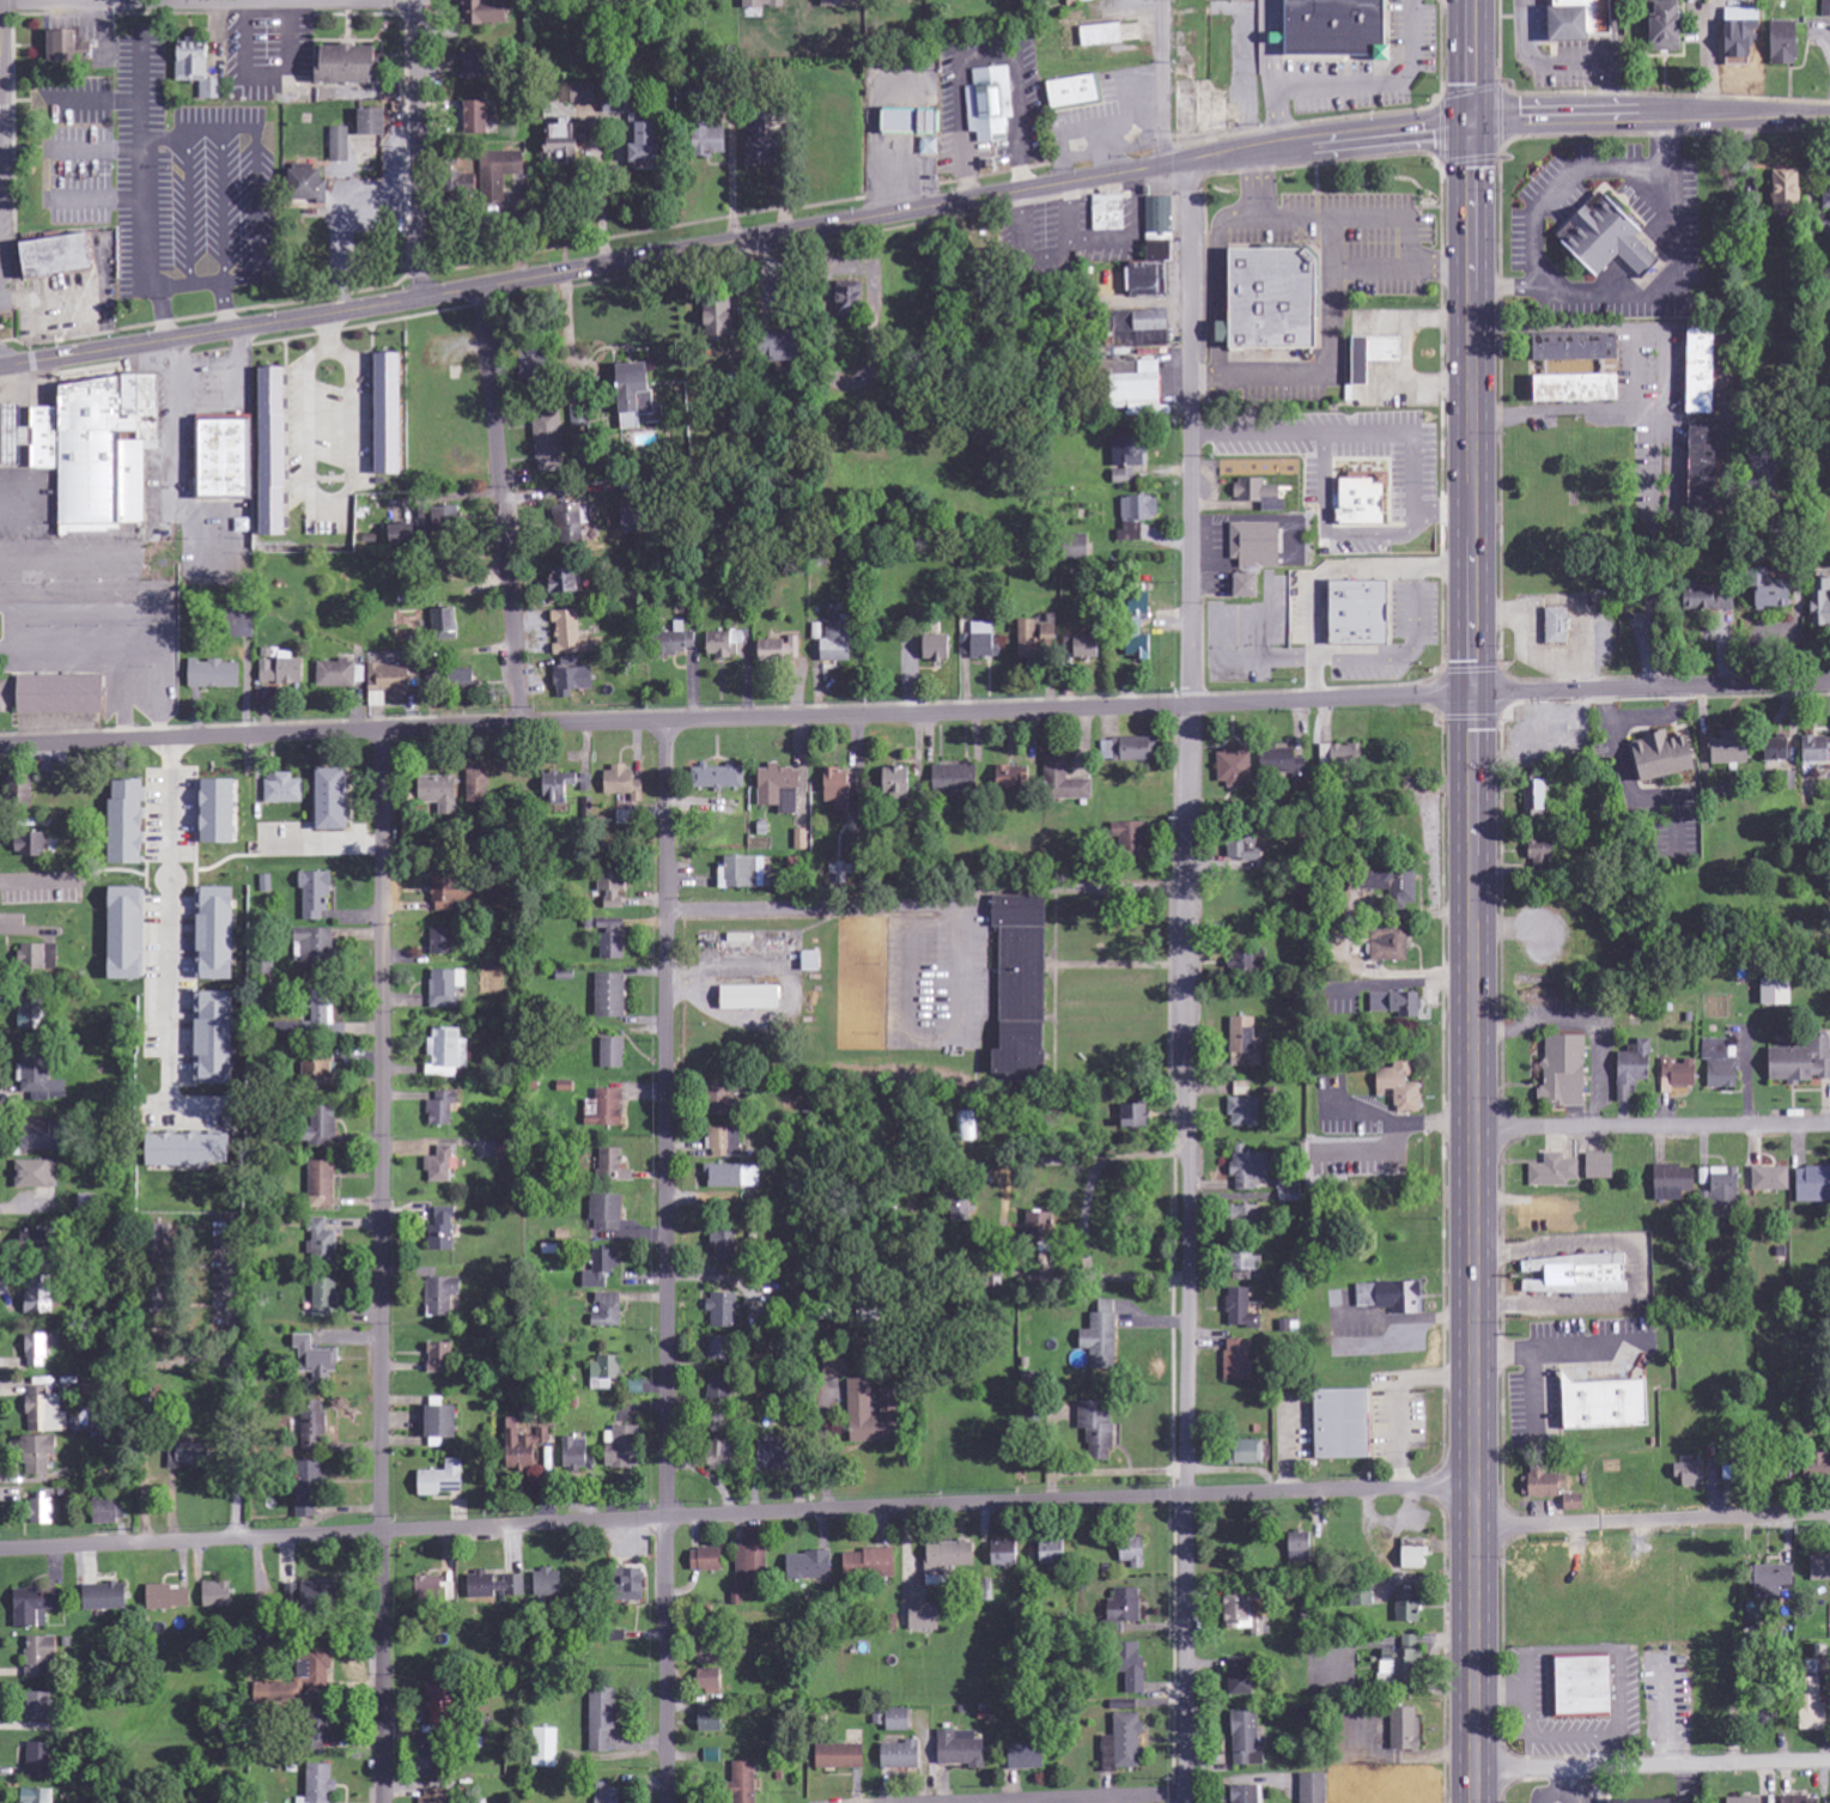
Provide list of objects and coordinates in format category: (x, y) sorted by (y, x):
road: (208, 4)
building: (767, 4)
building: (835, 4)
building: (1825, 7)
building: (488, 13)
building: (1587, 20)
building: (1658, 24)
building: (1340, 29)
building: (1735, 31)
building: (1104, 36)
building: (1779, 42)
building: (69, 49)
road: (1471, 62)
building: (352, 66)
road: (1, 67)
building: (479, 67)
building: (200, 71)
road: (0, 80)
road: (1160, 83)
building: (1075, 91)
building: (585, 93)
building: (616, 104)
building: (991, 104)
building: (481, 117)
building: (913, 120)
building: (377, 121)
traffic signals: (1471, 125)
building: (713, 139)
building: (569, 142)
building: (651, 142)
building: (341, 144)
building: (931, 146)
road: (414, 150)
building: (768, 151)
building: (500, 170)
building: (312, 184)
building: (1782, 189)
building: (1825, 189)
road: (911, 211)
building: (1111, 212)
building: (1598, 238)
building: (1156, 251)
building: (63, 255)
road: (1600, 290)
building: (851, 298)
building: (1277, 298)
building: (724, 317)
building: (1143, 328)
building: (794, 344)
building: (1567, 346)
road: (0, 354)
building: (1374, 356)
building: (869, 360)
building: (539, 371)
building: (1695, 371)
building: (1568, 387)
building: (1147, 389)
building: (639, 393)
building: (394, 413)
building: (39, 432)
building: (551, 442)
building: (278, 451)
building: (230, 457)
building: (1130, 459)
building: (1695, 469)
building: (1261, 494)
road: (1732, 496)
building: (1366, 500)
road: (501, 509)
building: (1138, 517)
building: (638, 520)
building: (430, 526)
building: (574, 526)
building: (1259, 545)
building: (569, 579)
building: (1248, 585)
building: (1763, 589)
building: (1692, 596)
building: (1820, 602)
building: (1363, 612)
building: (244, 624)
building: (448, 625)
building: (1552, 625)
building: (573, 636)
building: (685, 641)
building: (840, 642)
building: (980, 642)
building: (1056, 643)
building: (725, 644)
building: (1139, 646)
building: (938, 648)
building: (780, 650)
building: (284, 669)
building: (217, 674)
building: (338, 674)
building: (574, 678)
building: (395, 679)
building: (468, 679)
building: (65, 694)
traffic signals: (1472, 698)
road: (914, 717)
building: (1132, 748)
building: (1771, 748)
building: (1813, 749)
building: (1723, 751)
building: (1344, 755)
building: (1656, 755)
building: (1287, 763)
building: (1238, 769)
building: (722, 777)
building: (956, 778)
building: (1014, 778)
building: (1065, 779)
building: (900, 781)
building: (625, 783)
building: (563, 785)
building: (840, 785)
building: (478, 787)
building: (285, 788)
building: (780, 788)
building: (17, 791)
building: (442, 794)
building: (1533, 795)
building: (336, 799)
building: (224, 812)
building: (132, 822)
building: (1133, 837)
building: (32, 844)
building: (1247, 851)
building: (744, 872)
building: (844, 872)
building: (615, 882)
building: (1394, 885)
building: (455, 893)
building: (317, 894)
road: (928, 900)
building: (130, 933)
building: (221, 934)
building: (614, 939)
building: (445, 942)
building: (1392, 943)
building: (317, 952)
building: (35, 958)
building: (814, 961)
building: (1244, 961)
road: (1472, 963)
road: (1188, 982)
building: (448, 988)
building: (1026, 988)
building: (1771, 991)
building: (612, 996)
building: (752, 997)
building: (1398, 1003)
building: (32, 1016)
building: (219, 1038)
building: (1246, 1042)
building: (449, 1054)
building: (614, 1054)
building: (1796, 1062)
building: (1716, 1064)
building: (1628, 1069)
building: (1560, 1072)
building: (326, 1073)
building: (1676, 1073)
building: (43, 1079)
building: (1399, 1086)
building: (728, 1100)
building: (444, 1109)
building: (607, 1109)
building: (1245, 1112)
building: (1137, 1117)
building: (323, 1127)
road: (1652, 1127)
building: (44, 1135)
building: (726, 1142)
building: (194, 1151)
building: (613, 1165)
building: (1597, 1166)
building: (443, 1167)
building: (1251, 1168)
building: (1552, 1171)
building: (37, 1174)
building: (734, 1176)
building: (1768, 1178)
building: (322, 1179)
building: (1672, 1180)
building: (1720, 1182)
building: (1811, 1184)
building: (1291, 1190)
building: (90, 1203)
building: (963, 1210)
building: (603, 1214)
building: (1251, 1215)
building: (1041, 1224)
building: (445, 1230)
building: (35, 1239)
building: (323, 1244)
building: (725, 1247)
building: (1252, 1262)
road: (668, 1263)
road: (381, 1267)
building: (602, 1269)
building: (1579, 1275)
building: (444, 1295)
building: (43, 1297)
building: (1394, 1297)
building: (326, 1298)
building: (1242, 1310)
building: (609, 1311)
building: (724, 1311)
building: (1104, 1337)
building: (719, 1349)
building: (38, 1352)
building: (318, 1360)
building: (1241, 1360)
building: (440, 1361)
building: (838, 1366)
building: (606, 1373)
building: (718, 1389)
building: (1611, 1404)
building: (47, 1412)
building: (874, 1414)
building: (446, 1423)
building: (1348, 1425)
building: (315, 1428)
building: (1100, 1428)
building: (625, 1449)
building: (530, 1451)
building: (723, 1452)
building: (1252, 1452)
building: (576, 1453)
building: (43, 1455)
building: (194, 1456)
building: (780, 1456)
building: (1814, 1468)
building: (1686, 1474)
building: (445, 1480)
building: (312, 1488)
building: (1551, 1488)
building: (43, 1511)
building: (111, 1512)
road: (736, 1517)
road: (1652, 1519)
building: (1301, 1549)
building: (1007, 1554)
building: (1056, 1554)
building: (1415, 1554)
building: (1135, 1556)
building: (950, 1558)
building: (710, 1560)
building: (753, 1560)
building: (871, 1565)
building: (813, 1566)
building: (1819, 1568)
building: (1769, 1578)
building: (552, 1584)
building: (496, 1586)
building: (642, 1586)
building: (431, 1590)
building: (297, 1591)
building: (322, 1592)
building: (737, 1592)
building: (218, 1595)
building: (108, 1597)
building: (169, 1598)
building: (1409, 1605)
building: (36, 1607)
building: (1127, 1607)
building: (1248, 1614)
building: (926, 1617)
building: (43, 1656)
building: (710, 1657)
building: (1403, 1663)
building: (1138, 1677)
building: (1242, 1677)
building: (711, 1682)
building: (299, 1683)
building: (1577, 1684)
building: (1806, 1702)
building: (41, 1706)
building: (712, 1719)
building: (900, 1720)
building: (603, 1722)
building: (1402, 1728)
building: (1242, 1738)
building: (1126, 1744)
building: (547, 1748)
building: (963, 1749)
building: (901, 1755)
building: (843, 1758)
building: (1029, 1758)
building: (41, 1760)
road: (1652, 1763)
building: (747, 1783)
building: (322, 1784)
building: (1309, 1787)
building: (1399, 1790)
building: (1241, 1793)
building: (437, 1796)
building: (41, 1797)
building: (613, 1797)
road: (1086, 1798)
building: (1788, 1798)
building: (1740, 1799)

